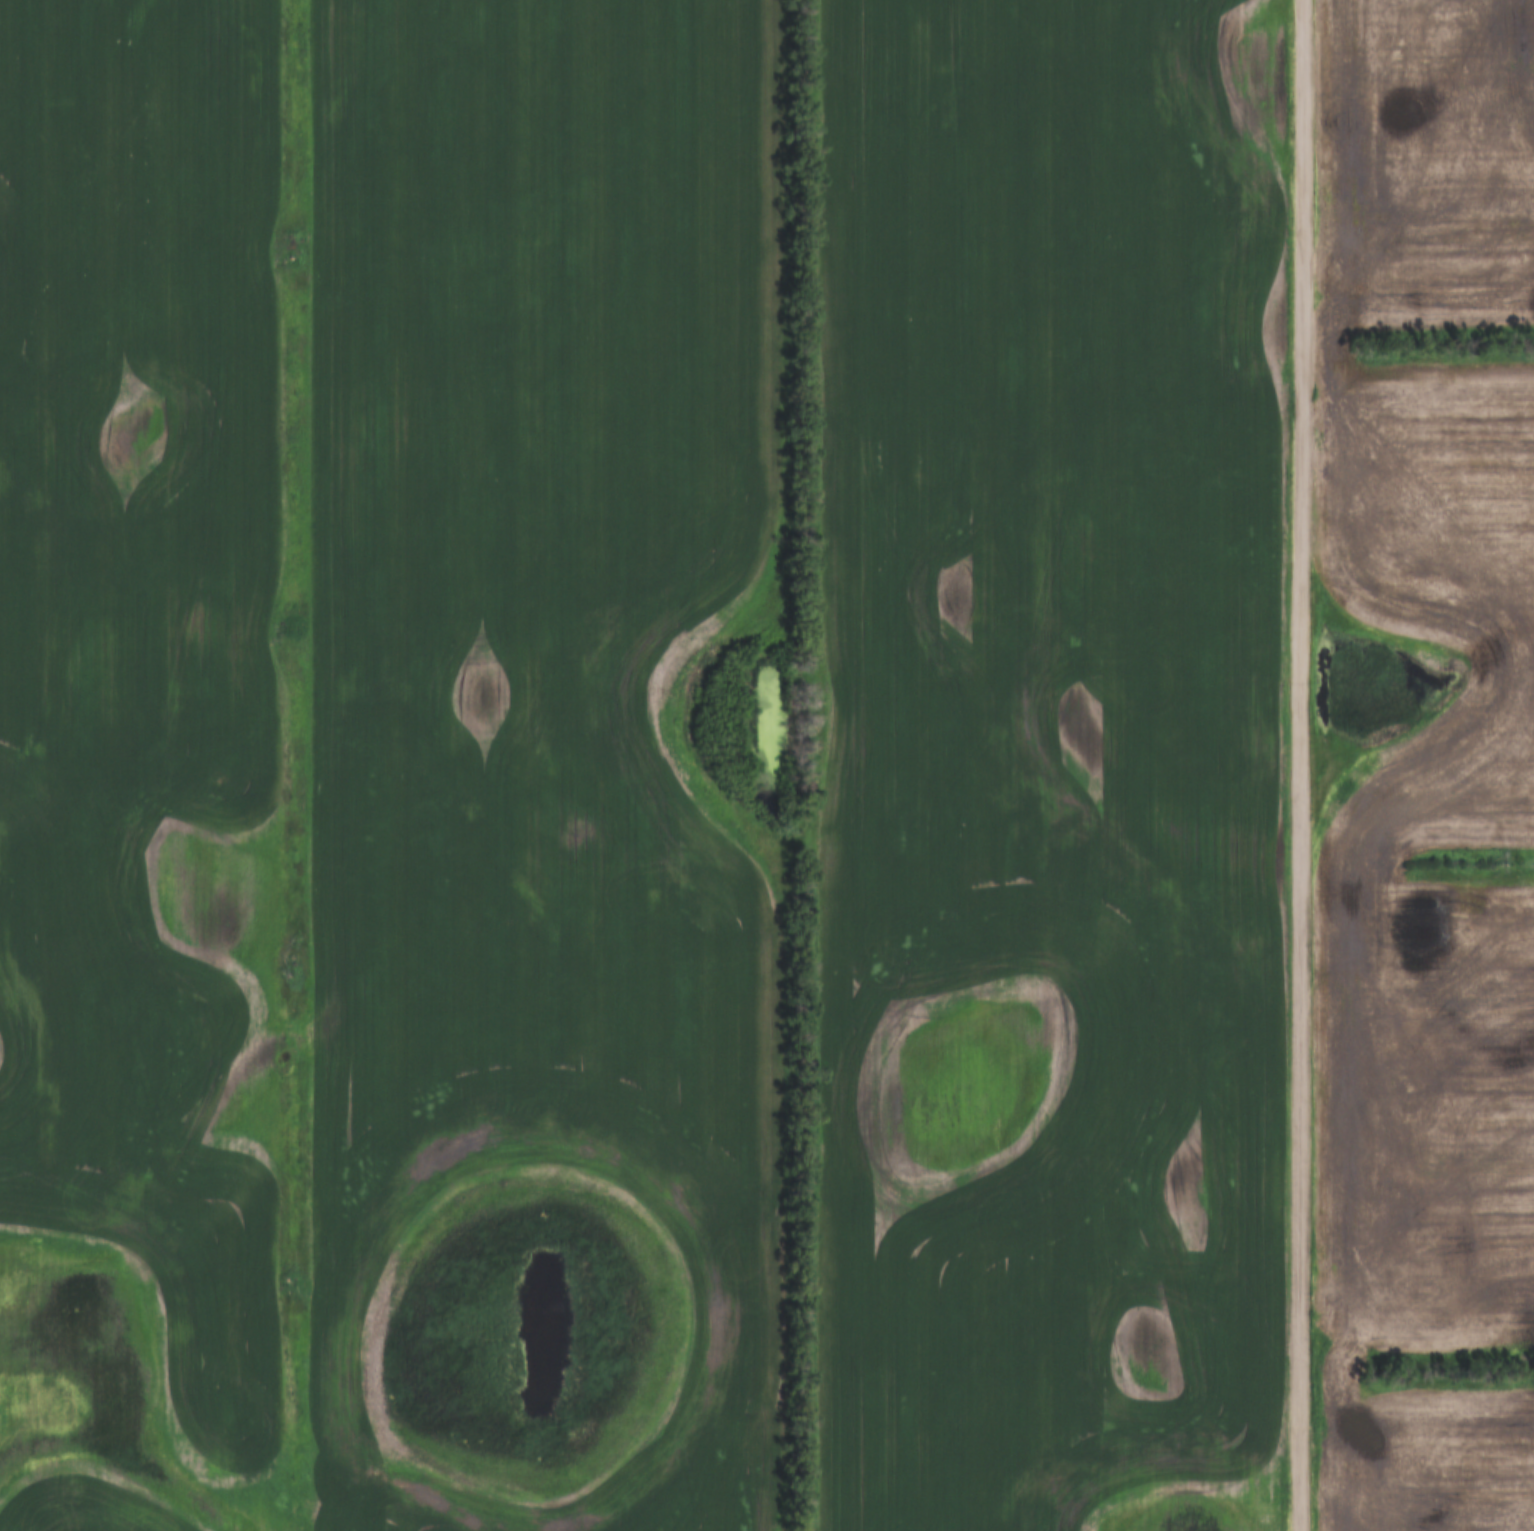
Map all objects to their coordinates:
road: (1301, 765)

